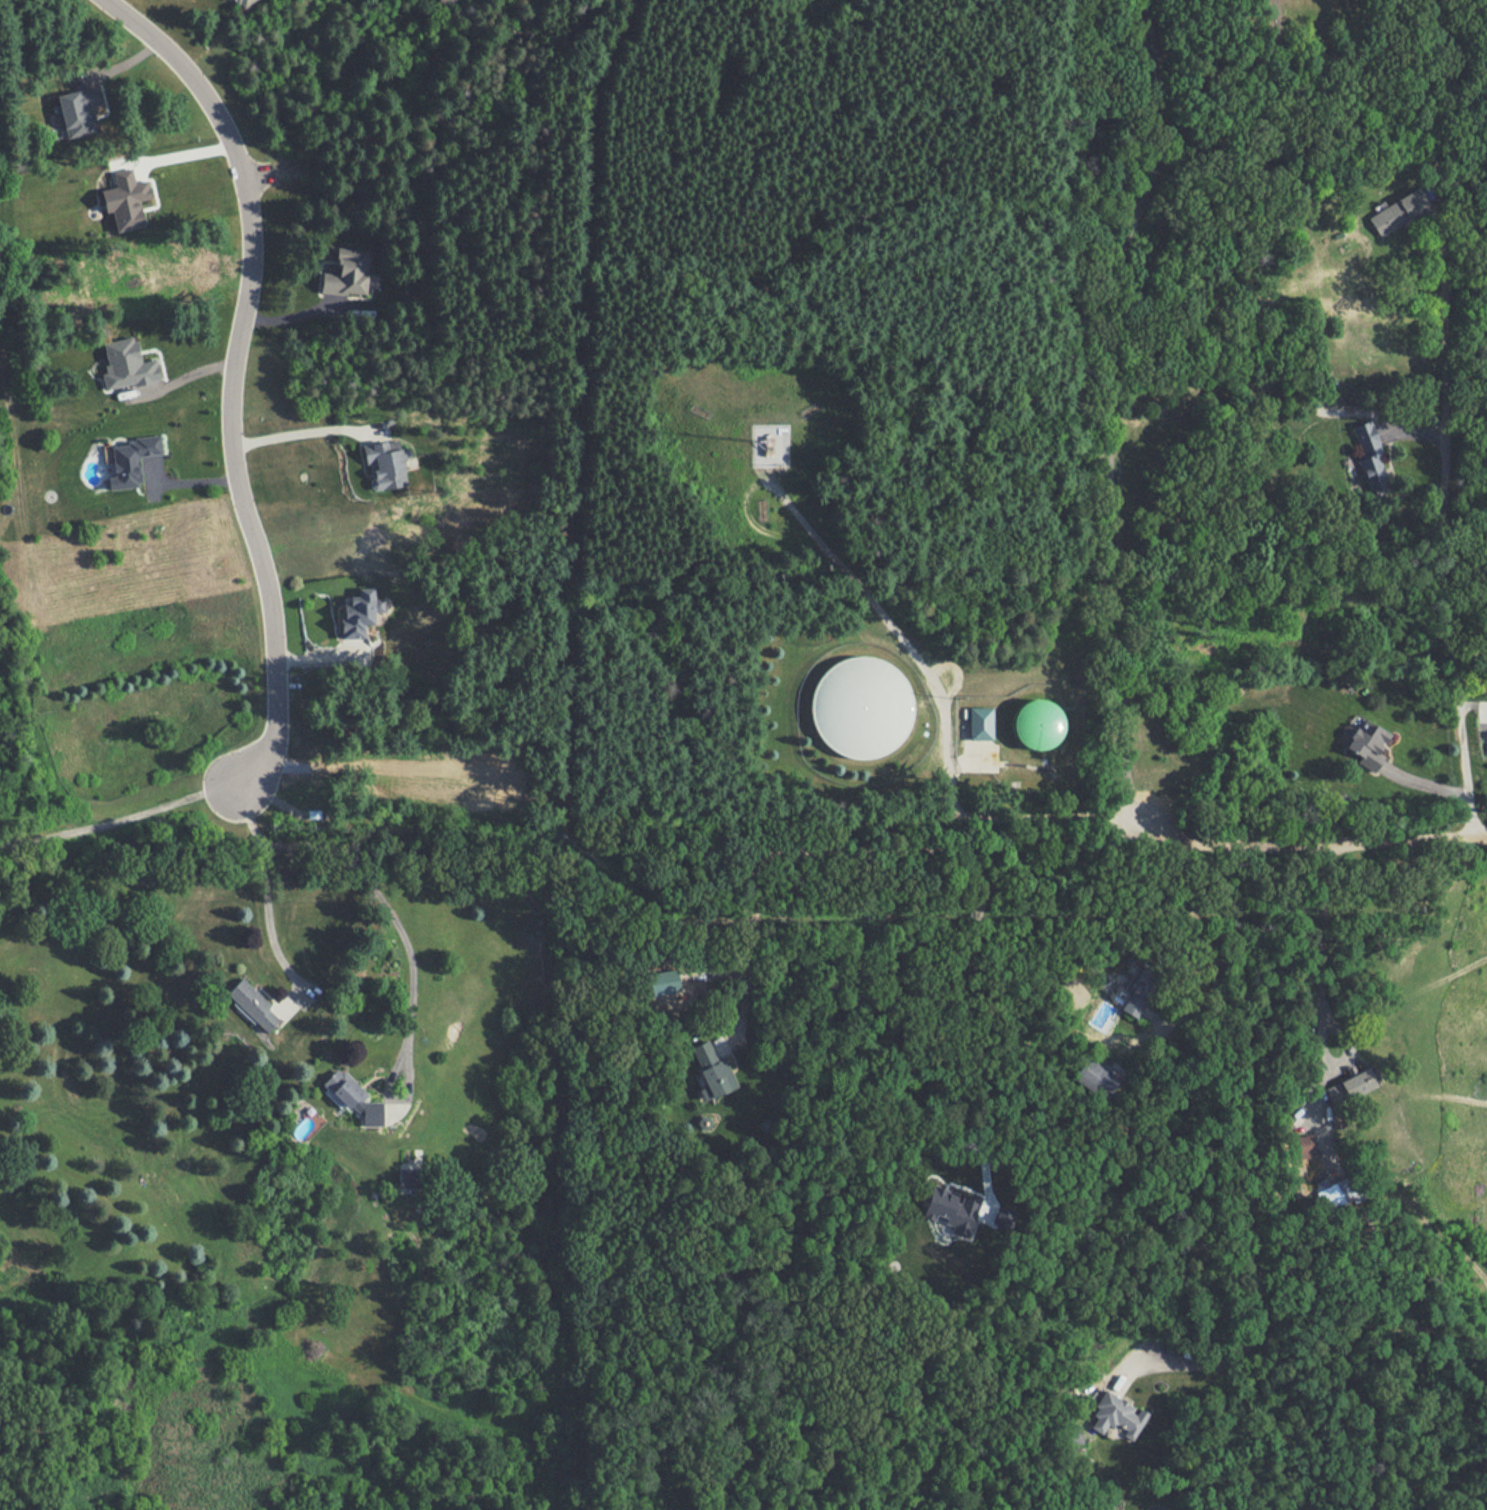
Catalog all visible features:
building: (74, 113)
road: (170, 156)
building: (125, 199)
building: (1397, 211)
building: (345, 272)
building: (126, 364)
road: (179, 378)
road: (233, 379)
road: (1092, 419)
road: (298, 436)
building: (1368, 453)
building: (130, 460)
building: (384, 464)
road: (1448, 570)
road: (31, 598)
building: (357, 613)
park: (17, 656)
building: (860, 706)
road: (941, 715)
road: (1486, 717)
building: (980, 722)
building: (1036, 723)
building: (1366, 743)
road: (120, 822)
road: (1317, 841)
road: (867, 852)
road: (261, 897)
road: (386, 909)
road: (1207, 936)
road: (1311, 959)
building: (662, 981)
building: (1137, 989)
building: (252, 1003)
building: (711, 1070)
building: (1095, 1077)
building: (1351, 1085)
building: (354, 1097)
road: (1246, 1111)
building: (1304, 1145)
building: (407, 1177)
building: (1335, 1193)
building: (951, 1209)
building: (1116, 1414)
building: (1073, 1434)

